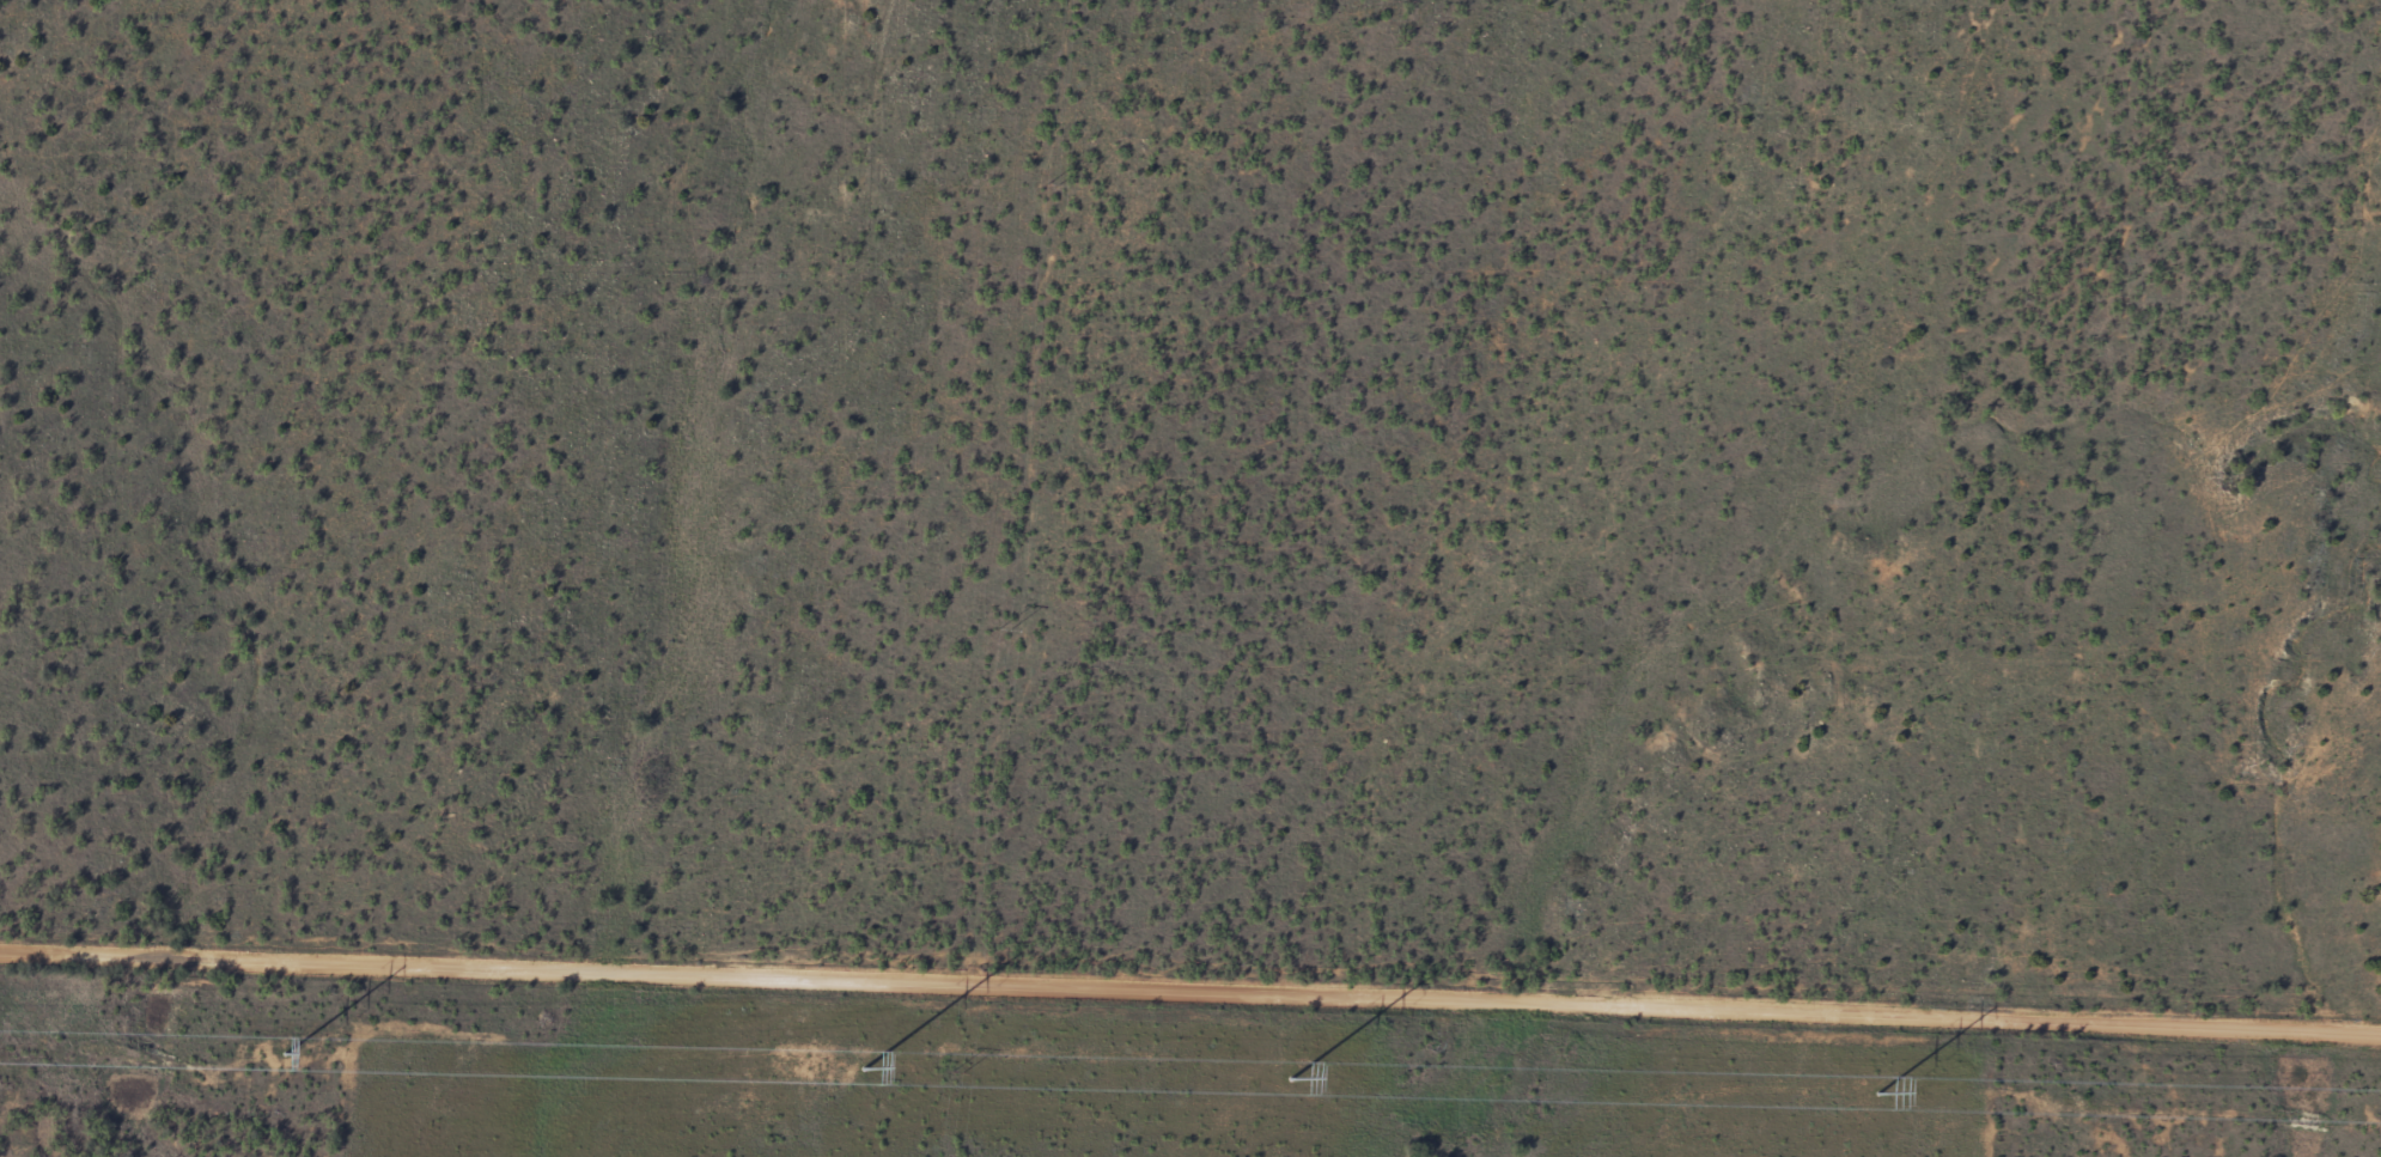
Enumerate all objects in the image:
power tower: (1053, 185)
power tower: (1004, 629)
road: (1190, 987)
power tower: (286, 1051)
power tower: (865, 1065)
power tower: (957, 1073)
power tower: (1292, 1076)
power tower: (1880, 1090)

